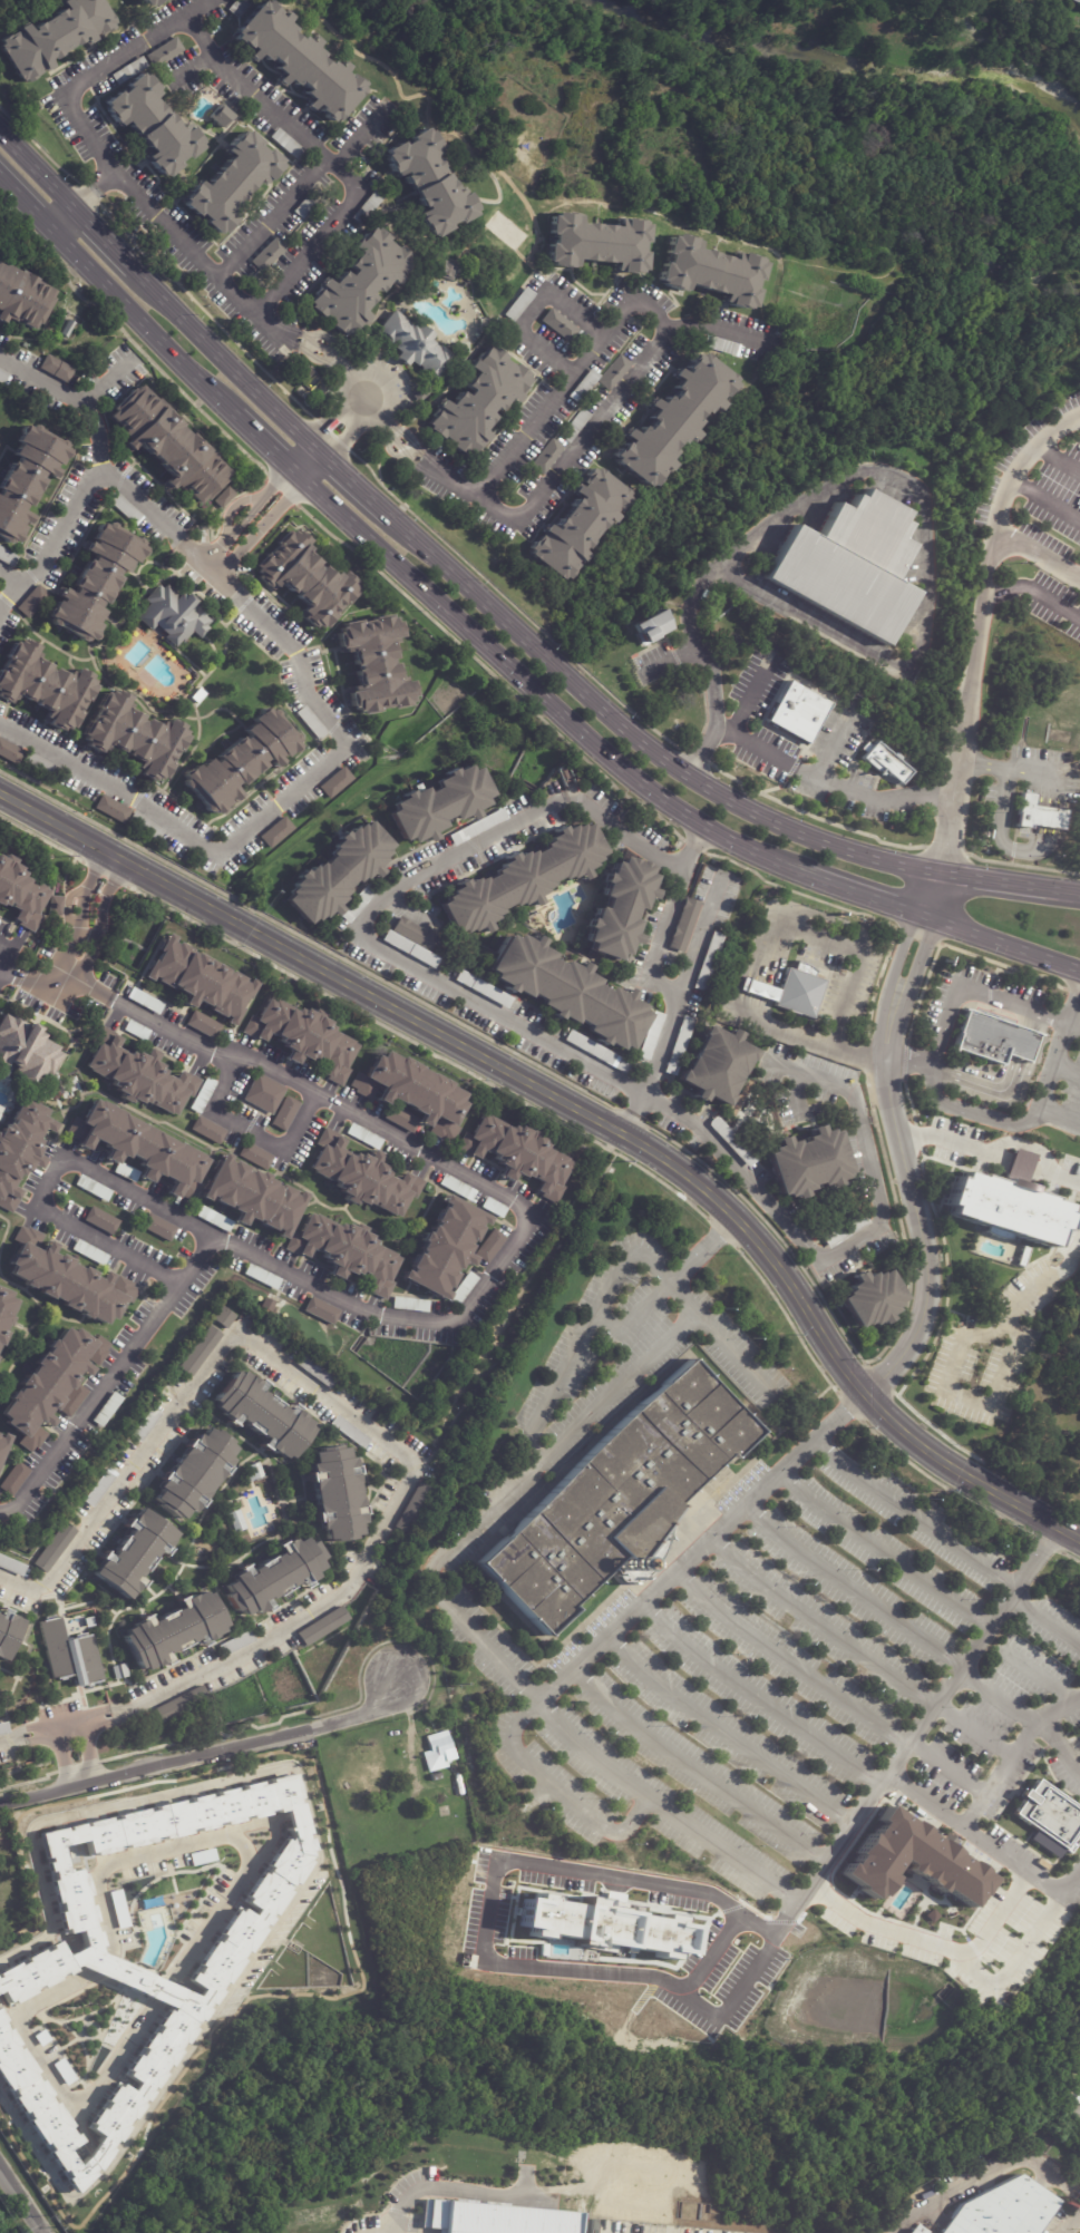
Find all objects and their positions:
building: (1077, 1)
building: (150, 2)
building: (56, 37)
building: (165, 52)
building: (296, 61)
road: (94, 69)
building: (129, 71)
park: (865, 77)
building: (221, 116)
building: (152, 125)
road: (309, 140)
building: (288, 145)
road: (37, 172)
building: (232, 184)
building: (430, 184)
road: (86, 198)
road: (26, 204)
building: (308, 204)
building: (368, 208)
road: (64, 221)
road: (323, 233)
road: (104, 240)
building: (596, 244)
building: (267, 255)
road: (192, 256)
building: (446, 271)
building: (711, 272)
building: (361, 281)
building: (21, 296)
building: (519, 305)
road: (648, 311)
road: (531, 312)
road: (145, 322)
building: (558, 326)
building: (68, 328)
road: (721, 329)
building: (413, 347)
building: (723, 348)
road: (325, 355)
road: (228, 363)
building: (300, 367)
building: (56, 368)
building: (614, 373)
building: (2, 376)
road: (383, 384)
building: (584, 387)
building: (421, 394)
building: (477, 404)
road: (335, 411)
building: (673, 421)
building: (576, 426)
road: (352, 430)
road: (403, 436)
building: (167, 443)
road: (271, 447)
road: (299, 454)
building: (548, 457)
road: (1058, 458)
road: (315, 469)
road: (89, 475)
road: (891, 475)
road: (1012, 476)
building: (26, 478)
road: (358, 486)
building: (223, 496)
road: (138, 498)
road: (1045, 501)
building: (125, 509)
road: (246, 513)
building: (581, 526)
road: (262, 527)
road: (1038, 553)
road: (200, 556)
building: (7, 557)
building: (849, 564)
road: (11, 578)
building: (307, 579)
building: (95, 582)
road: (228, 586)
road: (1031, 589)
building: (32, 601)
building: (172, 614)
building: (652, 626)
building: (373, 665)
building: (42, 685)
road: (541, 695)
road: (746, 705)
building: (797, 711)
road: (964, 718)
building: (311, 722)
building: (133, 737)
road: (638, 738)
building: (9, 752)
building: (239, 761)
building: (885, 761)
building: (40, 764)
road: (983, 764)
road: (791, 767)
building: (335, 782)
road: (883, 799)
building: (437, 803)
building: (111, 809)
building: (1039, 813)
road: (256, 821)
building: (146, 826)
building: (477, 827)
building: (275, 832)
building: (337, 872)
building: (520, 878)
road: (992, 879)
road: (1062, 889)
road: (933, 894)
building: (20, 895)
road: (865, 895)
building: (358, 903)
building: (53, 906)
building: (619, 908)
road: (101, 920)
road: (78, 923)
building: (684, 925)
road: (699, 936)
building: (412, 942)
road: (1002, 943)
road: (763, 945)
building: (709, 962)
road: (0, 965)
road: (650, 974)
road: (903, 977)
building: (196, 981)
road: (66, 982)
building: (484, 989)
building: (791, 991)
building: (566, 993)
road: (953, 993)
building: (144, 1001)
road: (1072, 1023)
building: (203, 1025)
building: (136, 1030)
building: (651, 1036)
building: (303, 1037)
building: (994, 1040)
building: (679, 1045)
road: (570, 1051)
building: (26, 1052)
building: (597, 1052)
building: (716, 1066)
building: (139, 1075)
building: (412, 1093)
building: (263, 1094)
building: (203, 1095)
road: (1031, 1109)
road: (584, 1111)
building: (284, 1114)
building: (399, 1118)
road: (1055, 1118)
road: (629, 1121)
building: (208, 1130)
road: (252, 1132)
building: (364, 1137)
road: (944, 1141)
building: (732, 1142)
road: (995, 1148)
building: (138, 1149)
building: (19, 1150)
building: (516, 1155)
building: (254, 1157)
building: (1021, 1158)
building: (808, 1164)
building: (362, 1177)
road: (1066, 1177)
road: (53, 1180)
building: (457, 1188)
building: (93, 1189)
building: (247, 1199)
building: (494, 1208)
building: (1004, 1208)
building: (100, 1221)
road: (918, 1225)
building: (158, 1228)
building: (847, 1231)
building: (489, 1247)
building: (442, 1250)
building: (346, 1252)
building: (89, 1254)
building: (262, 1277)
road: (1042, 1285)
building: (68, 1286)
building: (463, 1290)
road: (683, 1296)
building: (872, 1300)
building: (410, 1305)
building: (4, 1309)
building: (321, 1311)
building: (225, 1317)
road: (455, 1322)
building: (0, 1336)
road: (661, 1346)
building: (201, 1352)
building: (315, 1372)
building: (50, 1384)
road: (961, 1397)
building: (71, 1401)
building: (106, 1410)
building: (263, 1415)
building: (147, 1425)
building: (350, 1433)
park: (1041, 1433)
road: (532, 1434)
road: (378, 1437)
building: (2, 1444)
building: (193, 1473)
building: (253, 1473)
building: (13, 1480)
building: (100, 1488)
building: (337, 1494)
building: (617, 1499)
building: (415, 1510)
road: (911, 1513)
building: (236, 1522)
building: (55, 1548)
road: (879, 1550)
building: (133, 1556)
building: (11, 1567)
building: (273, 1577)
road: (26, 1588)
road: (847, 1588)
road: (1043, 1619)
building: (89, 1623)
building: (327, 1627)
building: (174, 1631)
building: (7, 1632)
building: (235, 1645)
road: (856, 1649)
building: (70, 1658)
road: (1025, 1666)
building: (119, 1673)
parking lot: (775, 1675)
road: (825, 1686)
road: (995, 1693)
road: (755, 1695)
building: (182, 1705)
parking lot: (991, 1718)
road: (66, 1726)
building: (3, 1729)
road: (724, 1730)
road: (26, 1736)
road: (1058, 1743)
road: (88, 1751)
road: (205, 1752)
building: (438, 1752)
road: (1011, 1752)
road: (59, 1758)
road: (692, 1769)
building: (442, 1779)
road: (560, 1791)
road: (662, 1806)
building: (1051, 1818)
road: (985, 1846)
building: (909, 1859)
road: (313, 1880)
road: (487, 1939)
road: (716, 1939)
road: (928, 1941)
building: (137, 1960)
road: (1018, 1966)
road: (607, 2158)
road: (984, 2177)
road: (455, 2186)
road: (22, 2198)
building: (1002, 2211)
building: (494, 2219)
road: (1067, 2221)
building: (641, 2229)
building: (913, 2232)

